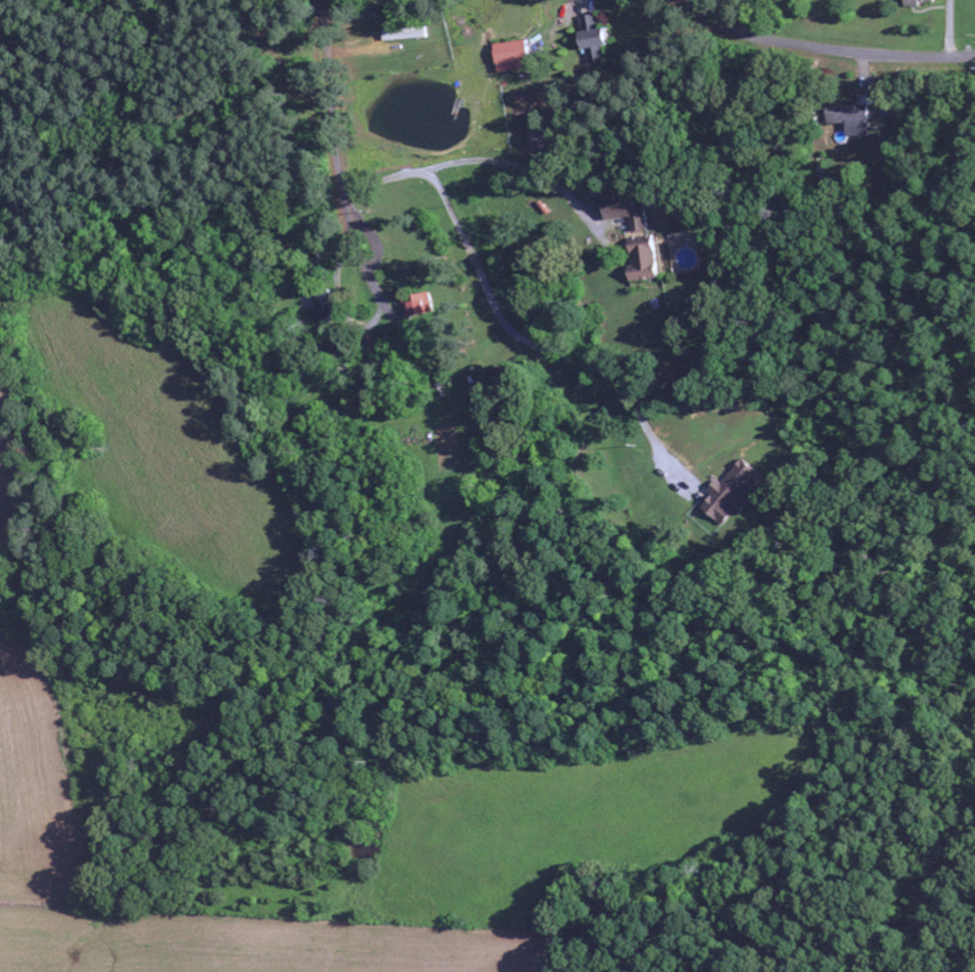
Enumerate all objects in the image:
building: (920, 2)
building: (406, 34)
building: (595, 39)
road: (831, 47)
building: (515, 56)
building: (890, 106)
building: (858, 118)
building: (540, 139)
road: (344, 155)
building: (627, 209)
road: (623, 226)
building: (645, 260)
building: (323, 305)
building: (419, 306)
building: (735, 493)

